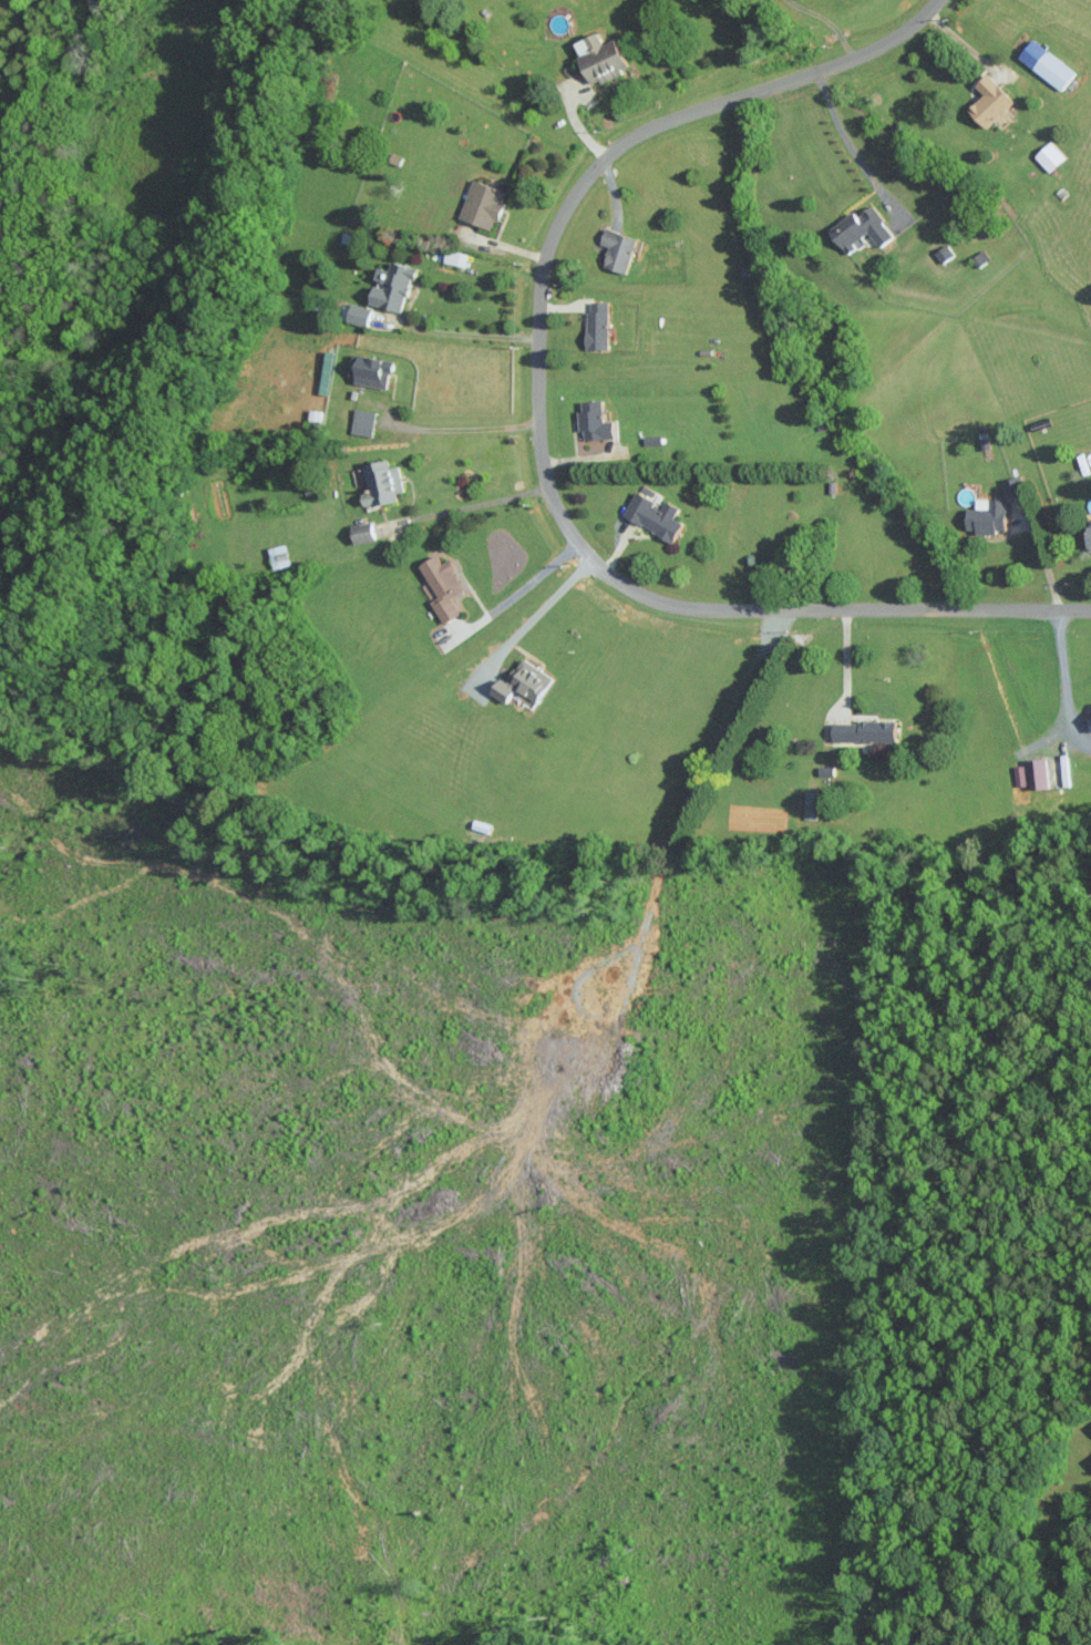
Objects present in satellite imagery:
building: (603, 58)
building: (1048, 64)
building: (991, 101)
road: (851, 148)
building: (1051, 157)
building: (484, 205)
building: (863, 229)
building: (619, 250)
building: (945, 254)
building: (394, 287)
building: (360, 315)
building: (598, 326)
road: (476, 335)
building: (371, 371)
road: (463, 419)
building: (363, 421)
building: (595, 421)
road: (545, 422)
building: (383, 482)
building: (1015, 487)
road: (481, 502)
building: (988, 514)
building: (656, 515)
building: (363, 531)
building: (279, 555)
building: (442, 586)
road: (517, 592)
road: (535, 615)
road: (844, 664)
road: (1064, 671)
building: (525, 681)
building: (865, 730)
building: (1038, 773)
building: (1020, 774)
building: (810, 805)

